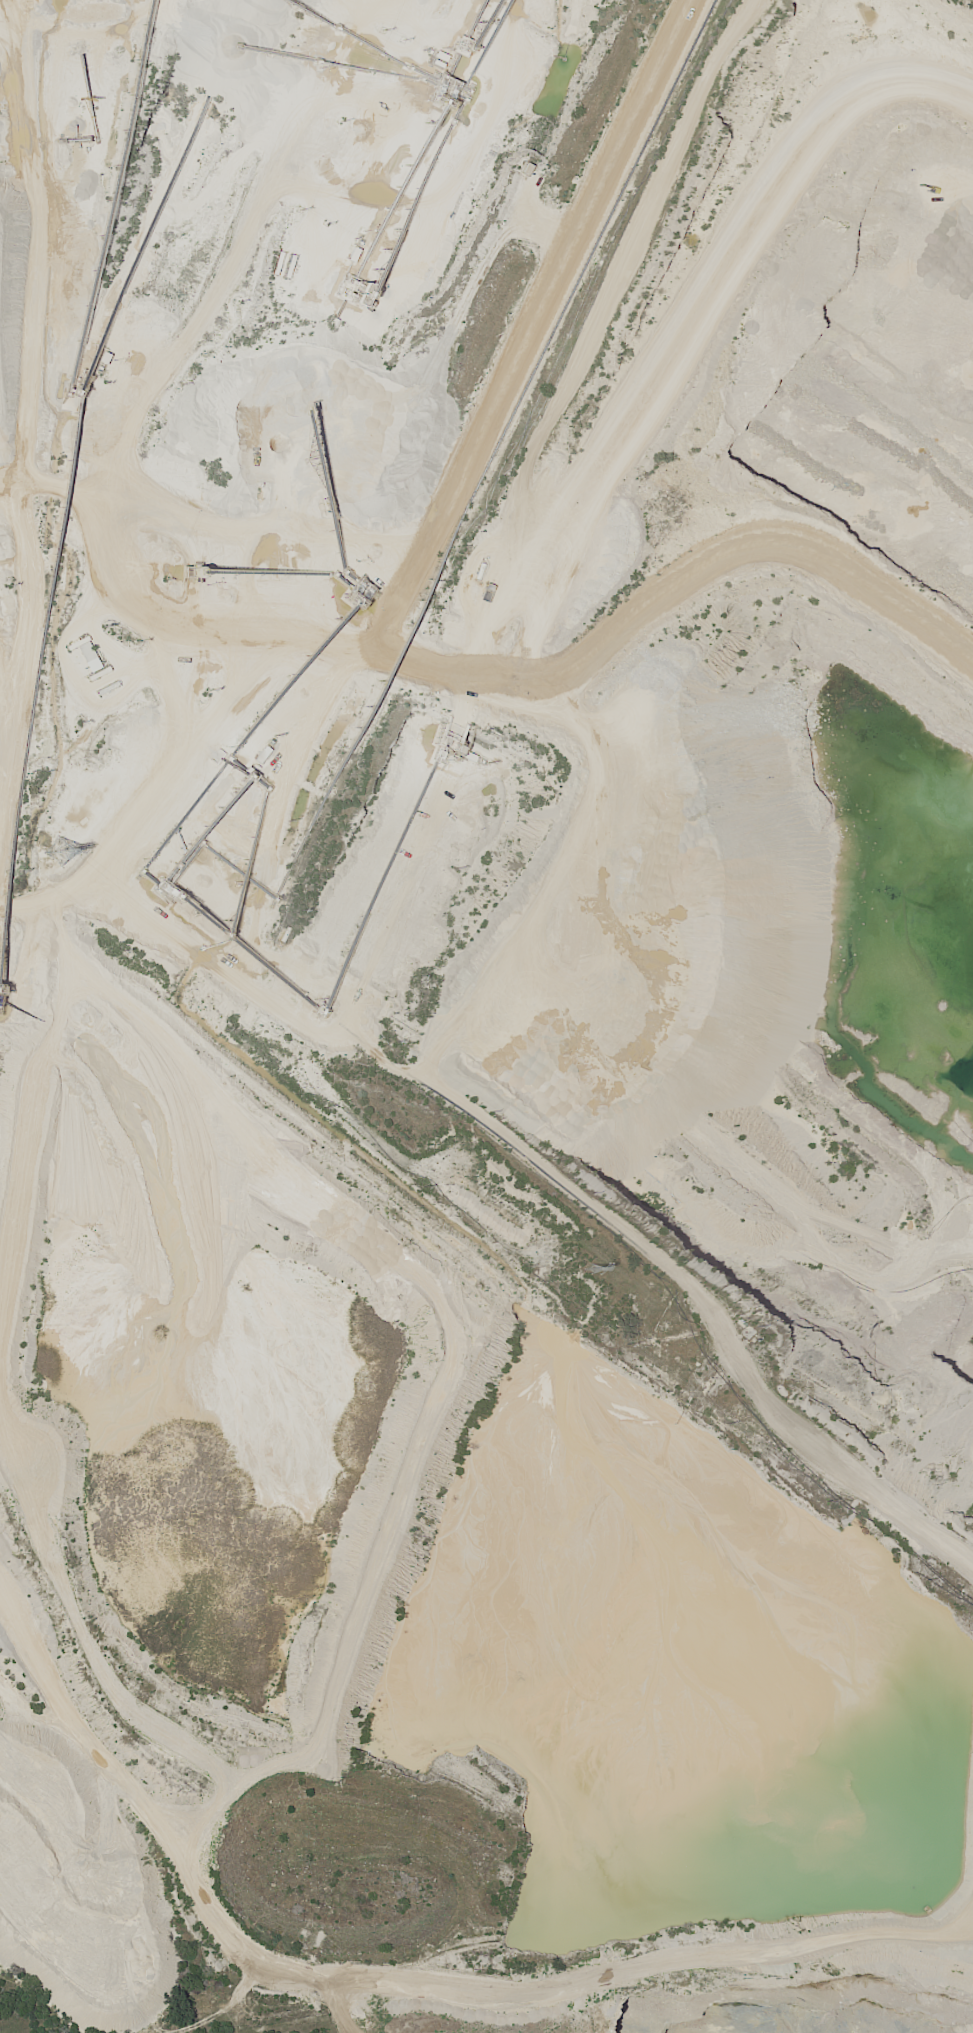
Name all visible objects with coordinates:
road: (339, 645)
building: (84, 650)
power tower: (40, 841)
quarry: (488, 1008)
power tower: (589, 1269)

